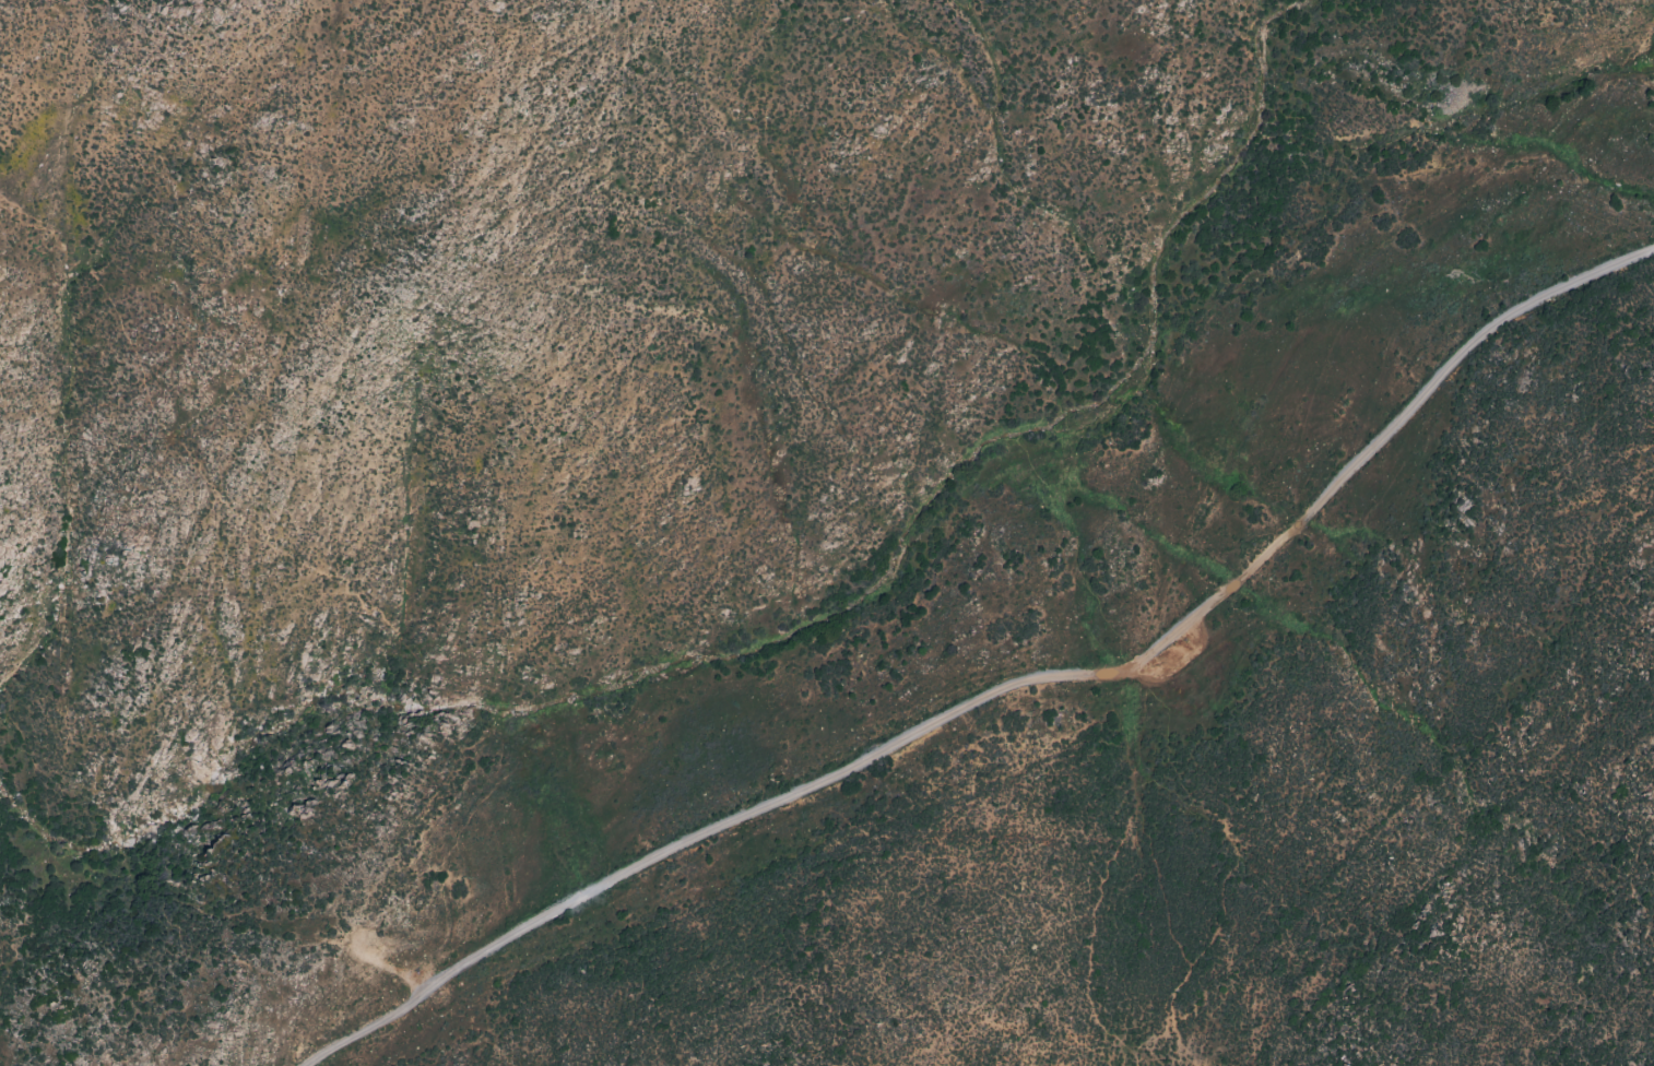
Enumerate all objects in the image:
road: (1005, 676)

